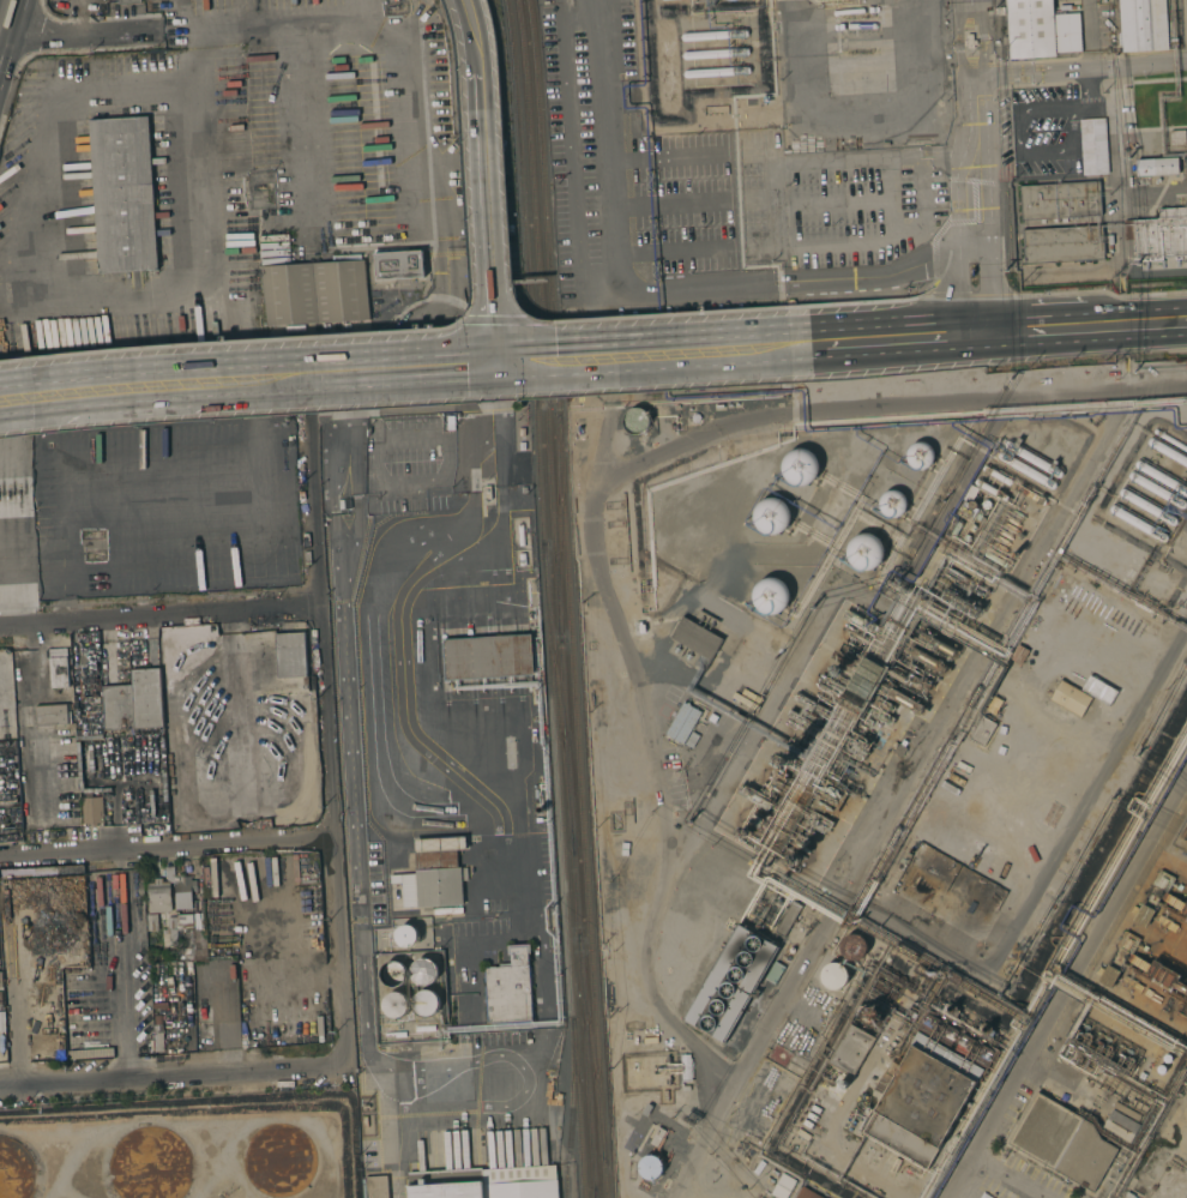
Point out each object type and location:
building: (731, 0)
building: (128, 1)
road: (1, 6)
building: (1143, 25)
building: (1040, 29)
road: (180, 30)
building: (713, 35)
road: (1087, 35)
road: (960, 38)
road: (983, 38)
building: (969, 41)
building: (715, 53)
road: (476, 65)
road: (1079, 70)
building: (716, 72)
road: (422, 100)
road: (974, 101)
road: (301, 116)
building: (119, 126)
building: (1177, 137)
road: (596, 142)
building: (1092, 146)
building: (1157, 167)
building: (1059, 200)
building: (123, 203)
road: (998, 228)
road: (958, 229)
building: (1162, 234)
building: (1062, 243)
road: (490, 249)
building: (397, 263)
road: (808, 281)
building: (313, 293)
road: (76, 302)
road: (996, 332)
road: (653, 356)
traffic signals: (499, 367)
road: (350, 373)
road: (101, 391)
building: (694, 417)
building: (634, 421)
road: (259, 429)
building: (621, 441)
building: (1167, 446)
building: (918, 454)
building: (1030, 464)
building: (799, 466)
building: (996, 475)
building: (1157, 483)
building: (990, 489)
building: (969, 494)
building: (1031, 494)
building: (524, 498)
building: (892, 504)
building: (984, 504)
building: (972, 505)
building: (495, 506)
building: (1017, 513)
building: (1143, 514)
building: (771, 516)
building: (978, 516)
building: (1013, 522)
building: (1011, 526)
railway: (560, 528)
building: (971, 528)
building: (954, 530)
building: (520, 535)
building: (1006, 535)
building: (965, 538)
building: (1002, 540)
building: (1000, 546)
building: (1008, 548)
building: (863, 550)
building: (1013, 554)
building: (522, 559)
building: (994, 559)
building: (956, 573)
railway: (548, 588)
railway: (559, 594)
building: (769, 595)
railway: (570, 598)
building: (960, 602)
road: (162, 614)
building: (860, 620)
building: (695, 638)
building: (936, 643)
building: (1109, 652)
building: (1019, 654)
building: (290, 655)
building: (488, 657)
building: (927, 660)
building: (88, 662)
building: (837, 670)
building: (918, 681)
building: (863, 682)
building: (55, 690)
building: (595, 693)
railway: (560, 697)
building: (1069, 698)
building: (904, 700)
building: (882, 703)
building: (125, 704)
building: (993, 704)
road: (235, 709)
building: (878, 716)
road: (327, 720)
building: (681, 723)
building: (982, 730)
building: (898, 748)
building: (788, 758)
building: (829, 796)
building: (754, 797)
building: (92, 809)
building: (13, 814)
road: (113, 814)
building: (745, 831)
road: (165, 842)
building: (794, 859)
building: (434, 874)
building: (183, 891)
building: (159, 893)
building: (1152, 897)
building: (423, 917)
building: (788, 919)
building: (151, 922)
building: (852, 946)
building: (1117, 958)
building: (153, 969)
building: (424, 971)
storage tank: (424, 971)
road: (260, 973)
building: (392, 973)
storage tank: (392, 973)
building: (773, 973)
building: (836, 976)
road: (116, 981)
building: (730, 982)
building: (1180, 986)
building: (508, 988)
building: (1156, 998)
building: (426, 1003)
storage tank: (426, 1003)
building: (394, 1005)
storage tank: (394, 1005)
road: (217, 1006)
building: (950, 1010)
building: (868, 1016)
building: (424, 1028)
building: (59, 1029)
building: (986, 1030)
building: (158, 1033)
building: (394, 1035)
railway: (593, 1046)
building: (850, 1049)
building: (52, 1050)
building: (35, 1052)
building: (1167, 1058)
building: (881, 1061)
building: (686, 1067)
building: (1161, 1068)
road: (171, 1083)
building: (840, 1084)
building: (922, 1100)
railway: (574, 1108)
building: (1121, 1122)
building: (1062, 1142)
building: (279, 1158)
building: (152, 1164)
building: (651, 1167)
building: (16, 1169)
building: (484, 1182)
building: (375, 1186)
building: (783, 1186)
railway: (585, 1187)
railway: (596, 1193)
railway: (596, 1193)
building: (806, 1193)

